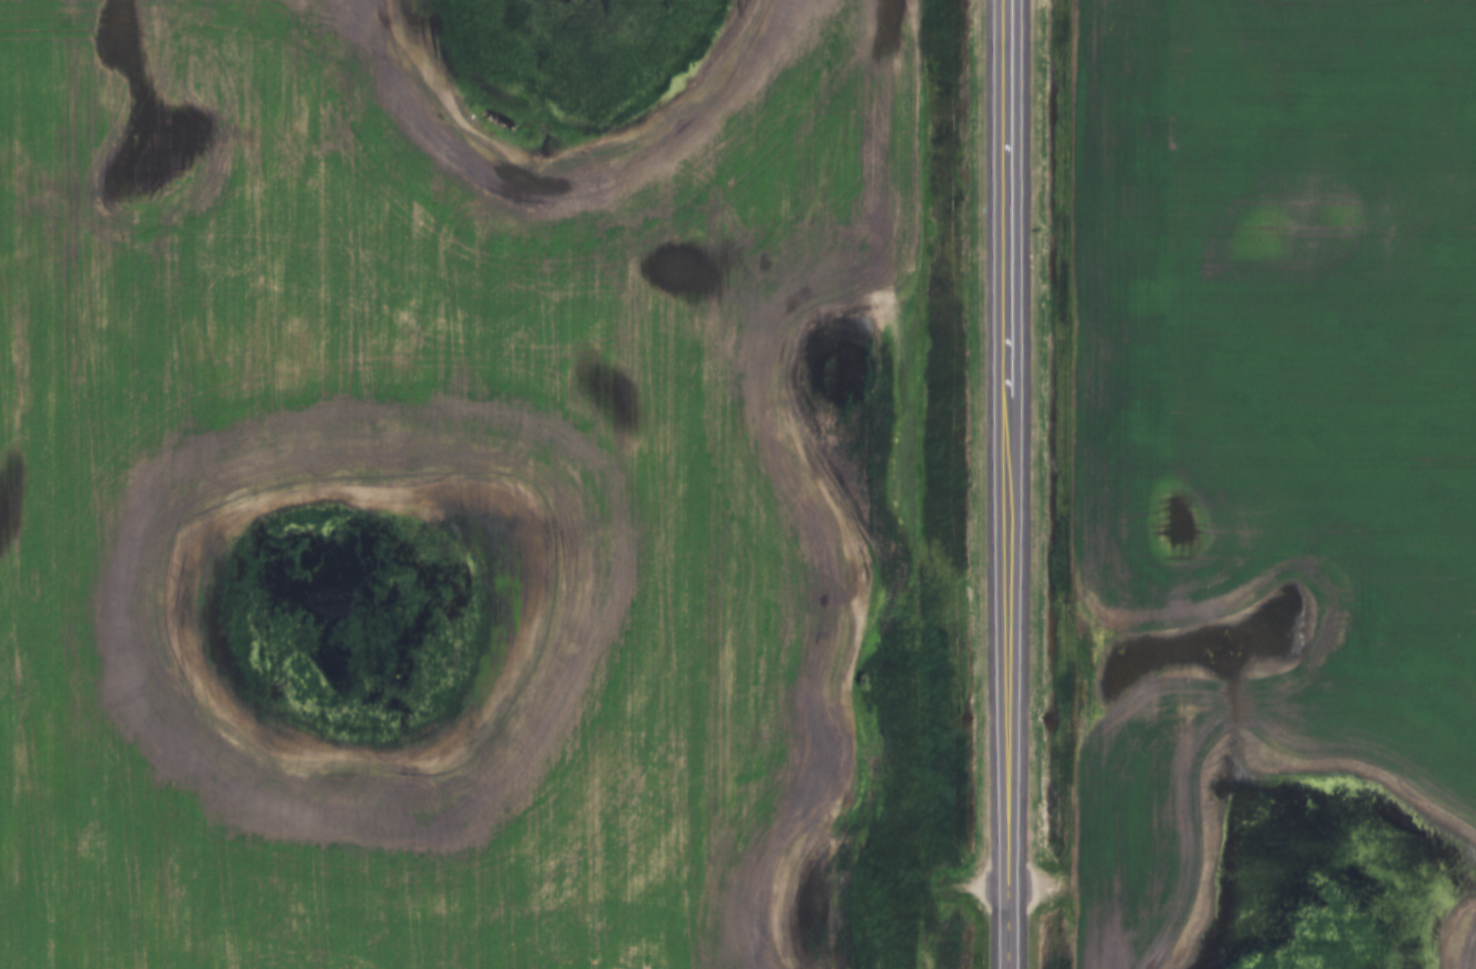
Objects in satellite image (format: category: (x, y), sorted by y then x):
road: (1009, 484)

